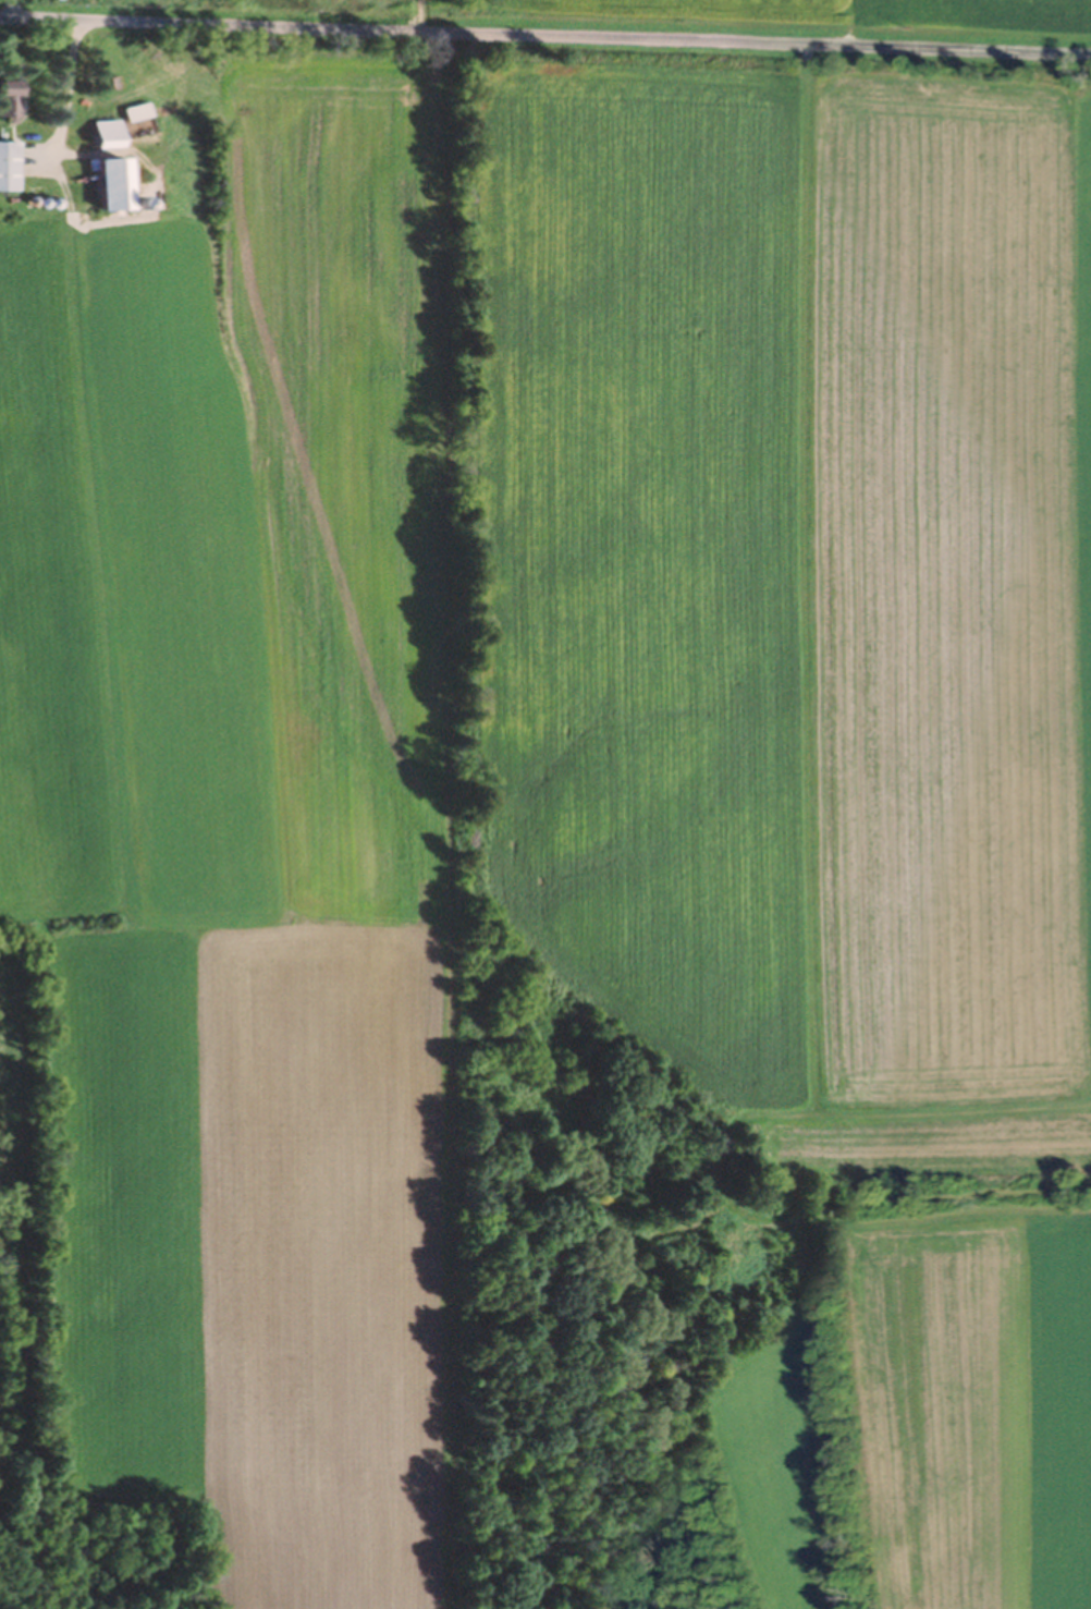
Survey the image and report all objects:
building: (45, 0)
road: (17, 11)
road: (545, 40)
road: (63, 97)
building: (8, 101)
building: (137, 123)
building: (102, 136)
building: (8, 168)
building: (107, 185)

